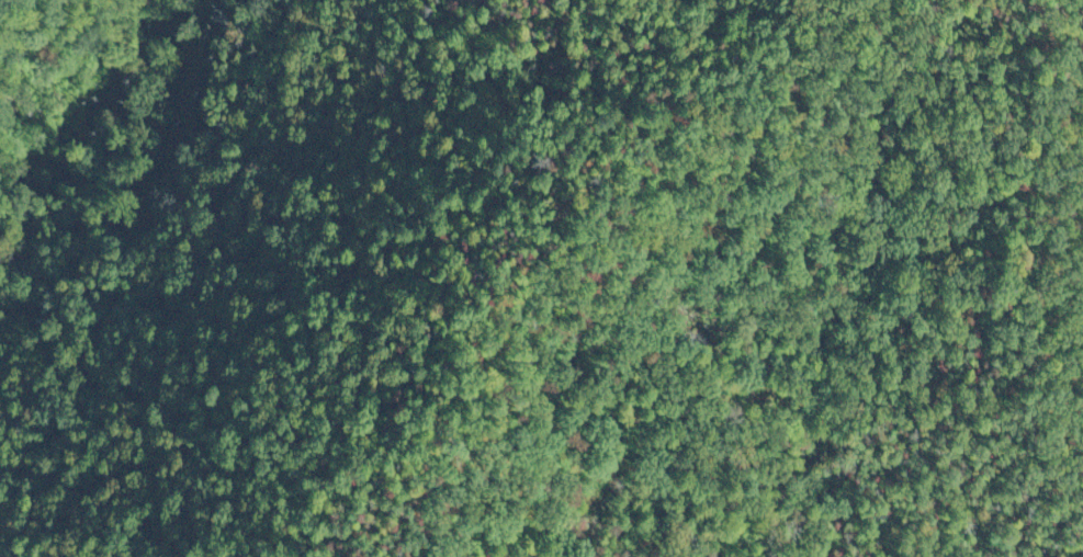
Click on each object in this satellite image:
road: (94, 157)

